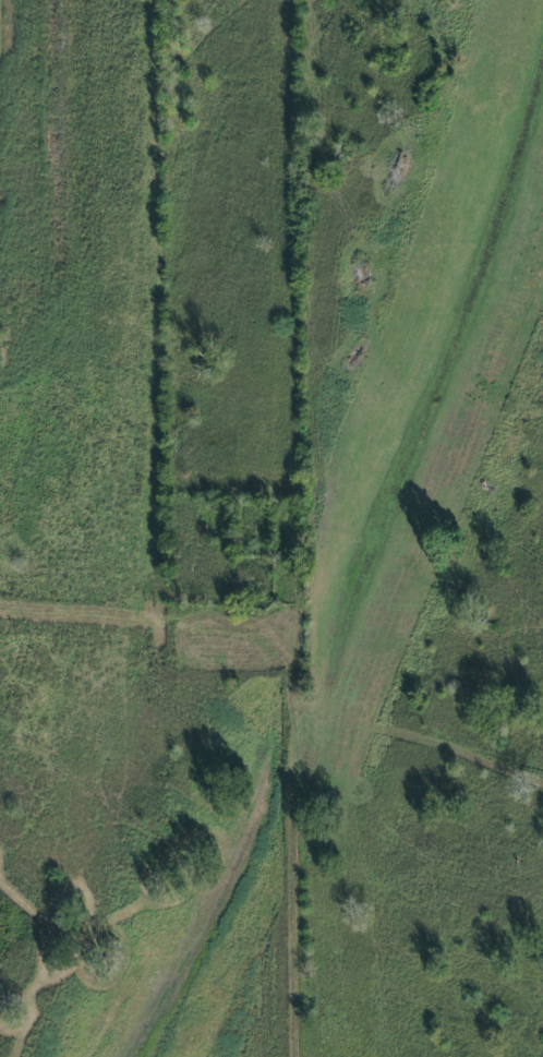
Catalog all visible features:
road: (310, 528)
road: (153, 622)

